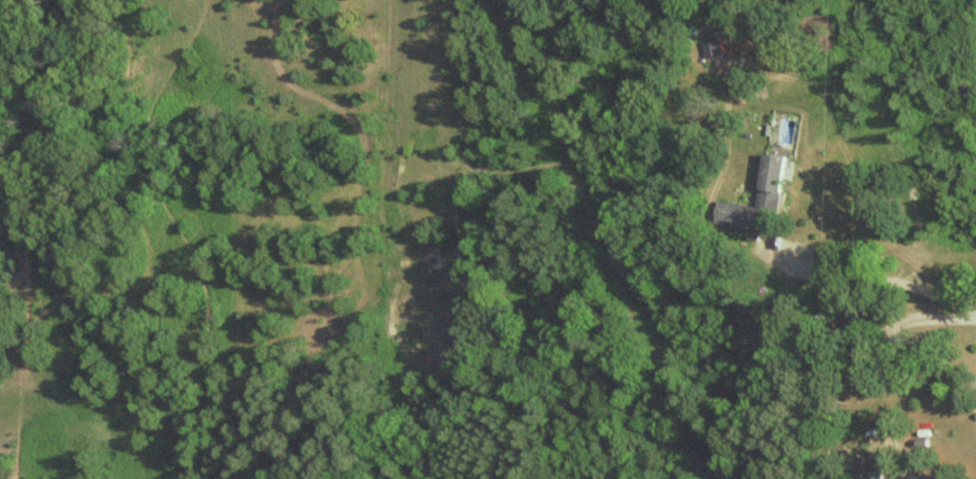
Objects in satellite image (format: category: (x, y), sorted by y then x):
building: (714, 49)
building: (767, 197)
road: (873, 274)
road: (907, 465)
building: (874, 475)

